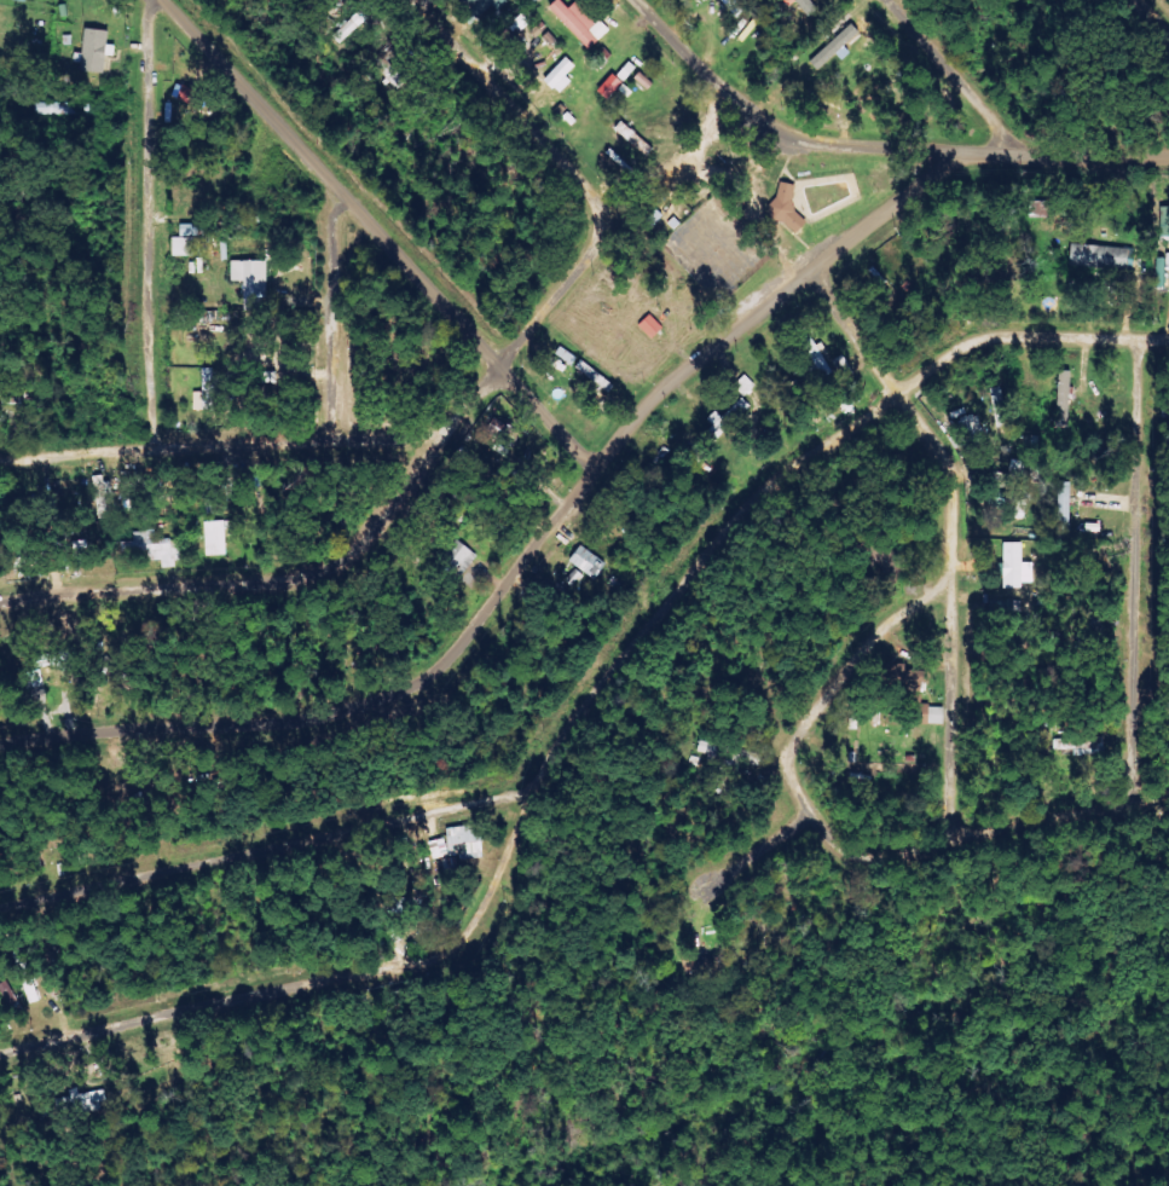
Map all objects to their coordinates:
building: (22, 0)
building: (734, 6)
building: (806, 6)
building: (476, 8)
road: (1148, 21)
building: (580, 23)
building: (835, 46)
building: (96, 51)
building: (561, 75)
road: (967, 79)
building: (610, 86)
building: (187, 97)
road: (780, 122)
road: (1105, 158)
building: (786, 207)
road: (149, 222)
building: (1164, 224)
road: (378, 237)
building: (187, 241)
building: (1103, 256)
building: (251, 282)
road: (338, 318)
building: (652, 326)
road: (1023, 341)
building: (206, 392)
building: (1064, 395)
road: (468, 421)
road: (300, 446)
road: (88, 452)
road: (12, 461)
building: (1064, 502)
road: (554, 530)
road: (950, 534)
building: (216, 538)
building: (151, 548)
building: (588, 562)
building: (1015, 567)
road: (1136, 568)
building: (915, 695)
road: (1153, 793)
road: (507, 832)
road: (824, 832)
building: (465, 841)
road: (262, 847)
road: (750, 862)
building: (82, 1101)

